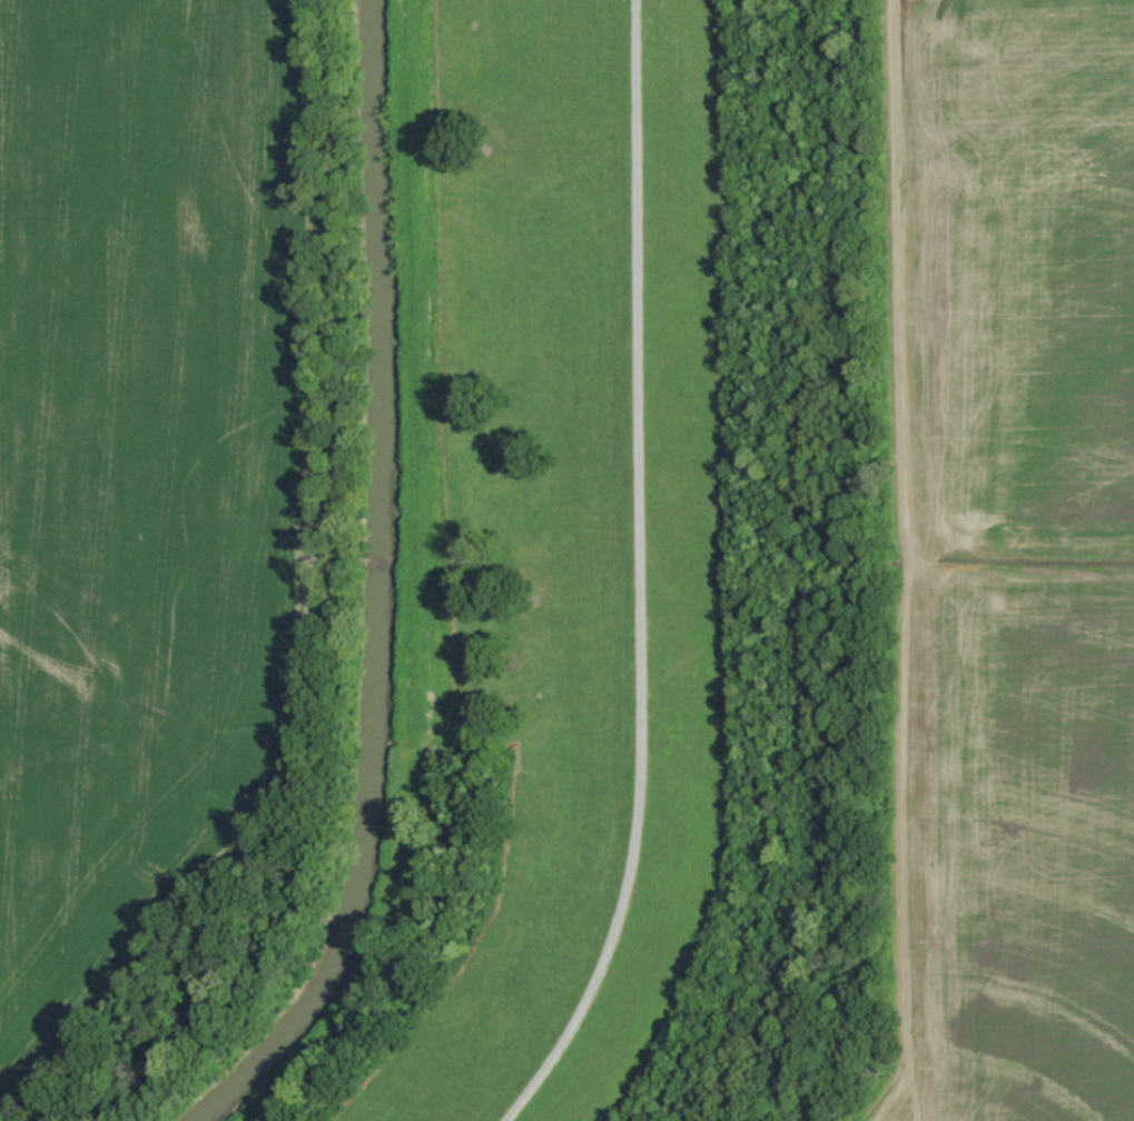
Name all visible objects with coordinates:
road: (901, 564)
road: (641, 577)

